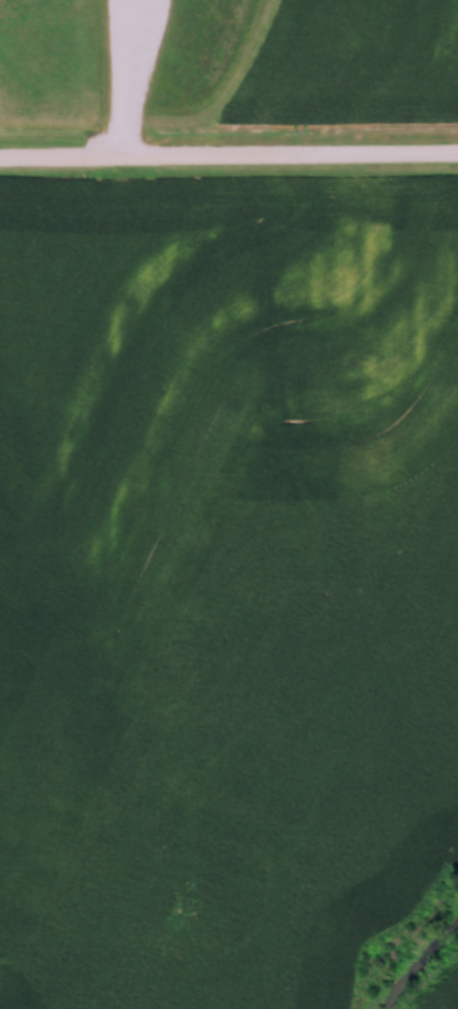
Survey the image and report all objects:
road: (123, 79)
road: (228, 156)

